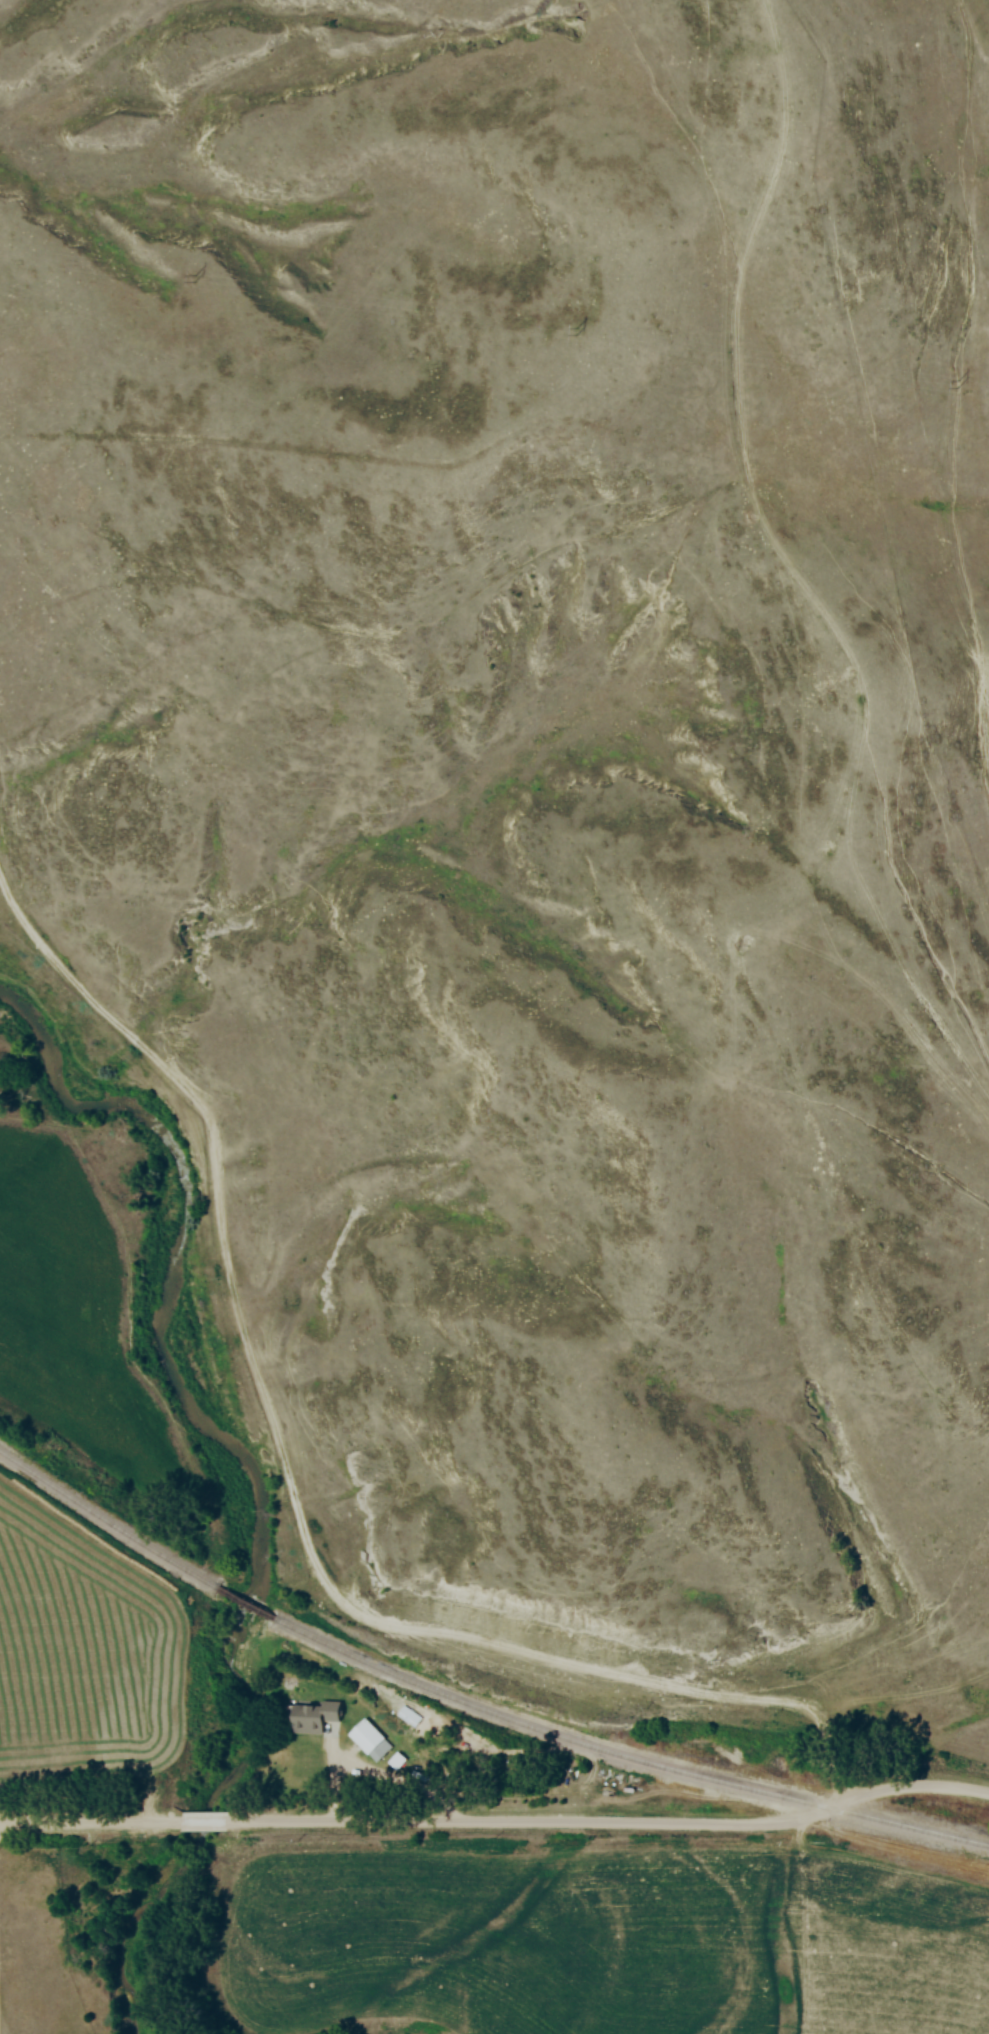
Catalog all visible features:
crop: (72, 1311)
railway: (108, 1520)
railway: (245, 1604)
crop: (83, 1654)
building: (313, 1717)
building: (365, 1736)
building: (392, 1755)
railway: (623, 1755)
road: (90, 1825)
road: (204, 1825)
road: (611, 1825)

